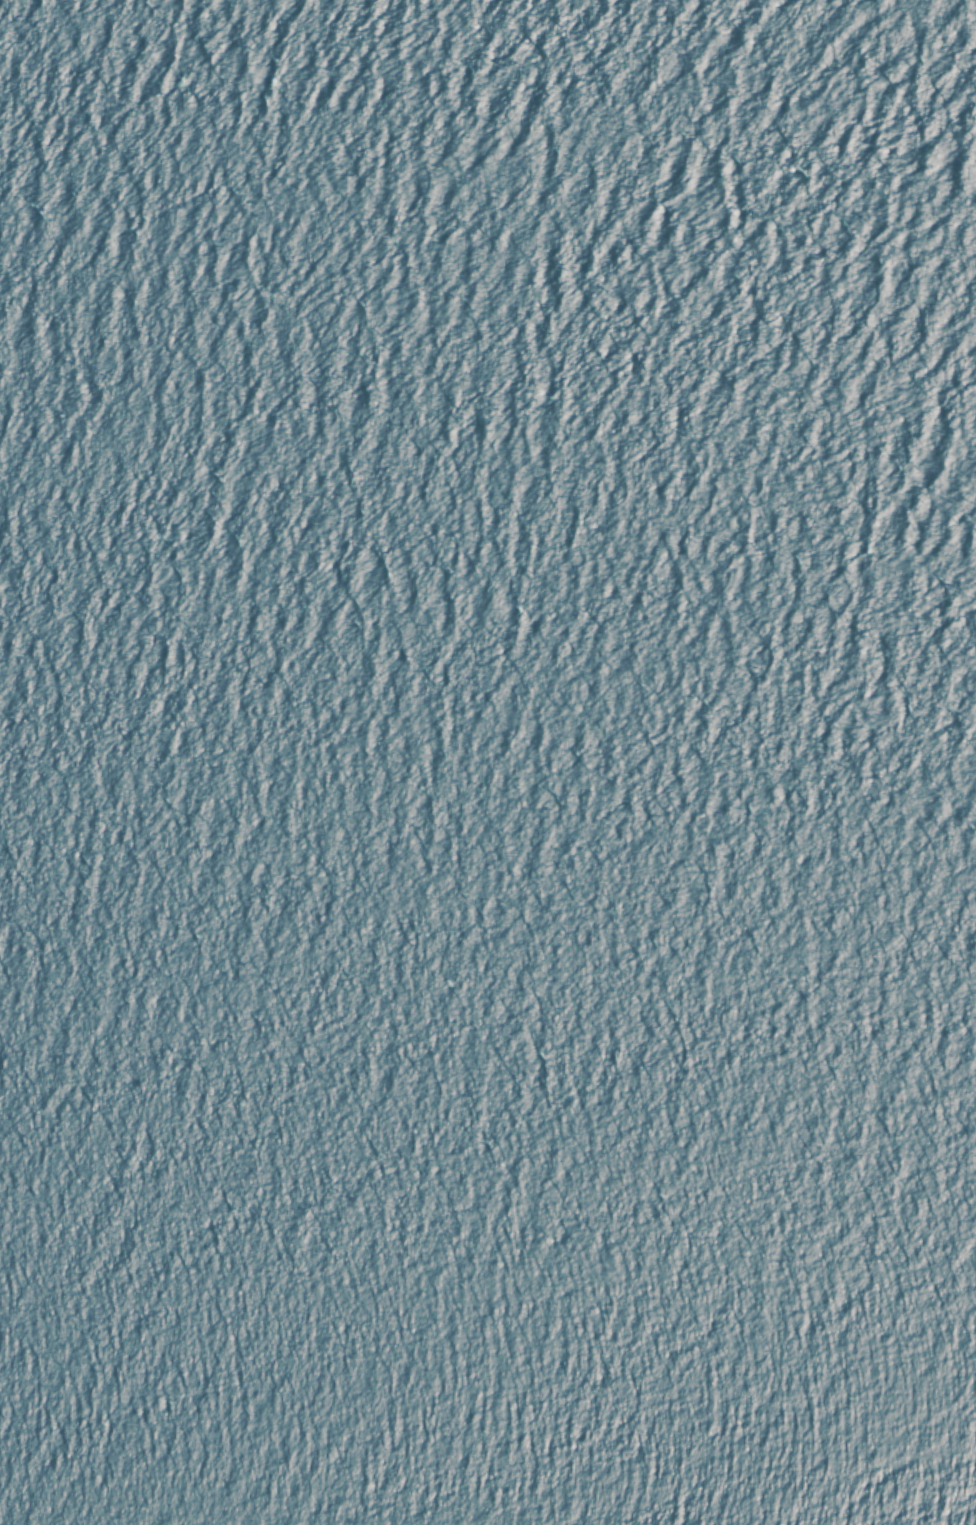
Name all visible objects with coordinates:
river: (485, 414)

